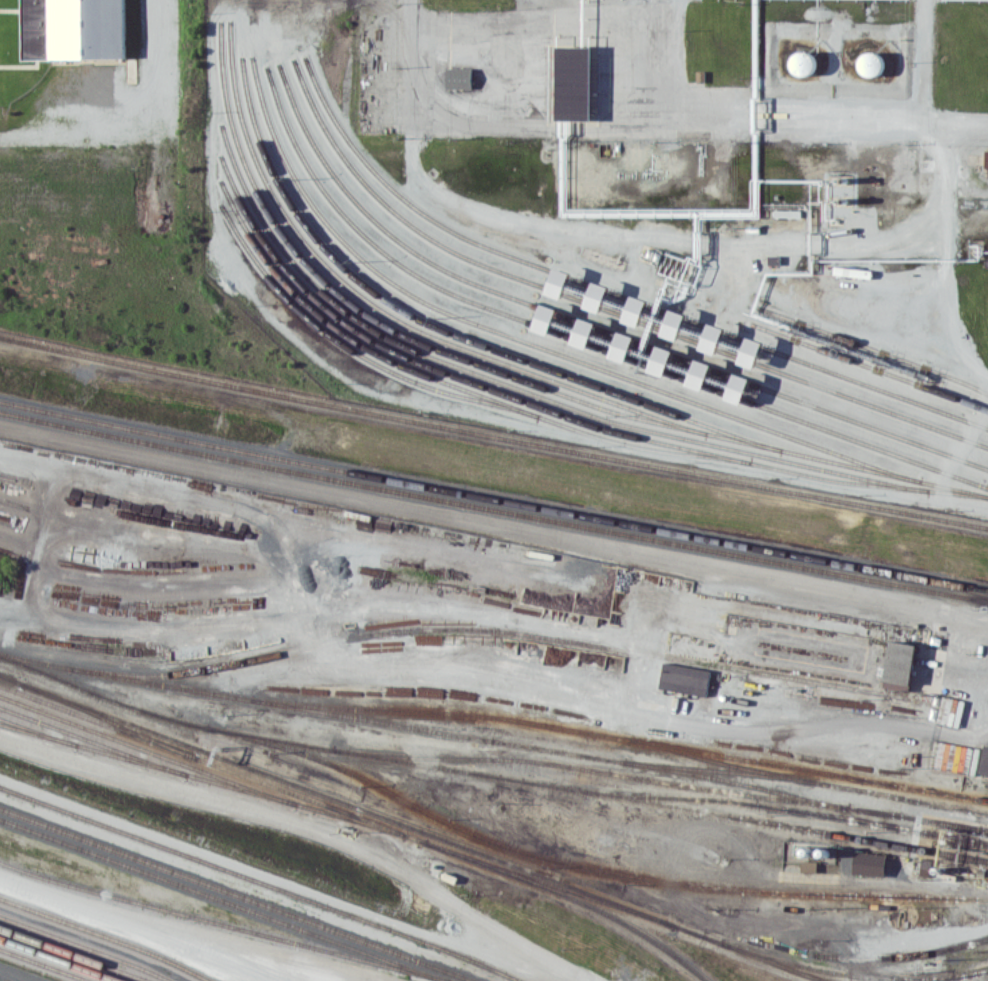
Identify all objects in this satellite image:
building: (71, 27)
building: (802, 63)
building: (871, 63)
road: (919, 63)
road: (507, 64)
building: (458, 77)
building: (571, 82)
road: (639, 123)
building: (987, 157)
road: (948, 257)
building: (559, 282)
railway: (609, 291)
building: (597, 296)
railway: (600, 306)
building: (636, 310)
railway: (383, 311)
building: (651, 315)
building: (546, 318)
railway: (588, 324)
building: (674, 324)
railway: (443, 330)
building: (584, 332)
building: (713, 338)
railway: (577, 339)
railway: (524, 340)
building: (623, 346)
railway: (873, 348)
railway: (353, 350)
building: (751, 352)
building: (643, 353)
building: (661, 360)
railway: (869, 366)
railway: (507, 374)
building: (700, 374)
railway: (447, 382)
building: (738, 388)
railway: (550, 399)
railway: (526, 402)
railway: (493, 435)
railway: (493, 496)
railway: (493, 507)
road: (493, 524)
road: (108, 578)
railway: (456, 628)
building: (899, 661)
building: (684, 677)
road: (591, 704)
railway: (107, 720)
railway: (529, 720)
railway: (37, 731)
railway: (92, 741)
railway: (147, 750)
building: (949, 756)
railway: (619, 760)
building: (985, 761)
railway: (590, 769)
railway: (718, 769)
railway: (202, 777)
railway: (807, 779)
railway: (596, 794)
railway: (790, 808)
railway: (360, 819)
railway: (410, 827)
road: (307, 831)
railway: (480, 835)
building: (808, 851)
building: (869, 863)
building: (809, 866)
railway: (262, 881)
railway: (549, 884)
railway: (238, 895)
railway: (225, 901)
railway: (224, 924)
road: (137, 928)
railway: (108, 936)
railway: (85, 946)
road: (170, 949)
railway: (75, 953)
railway: (899, 956)
railway: (60, 958)
railway: (45, 964)
railway: (853, 974)

